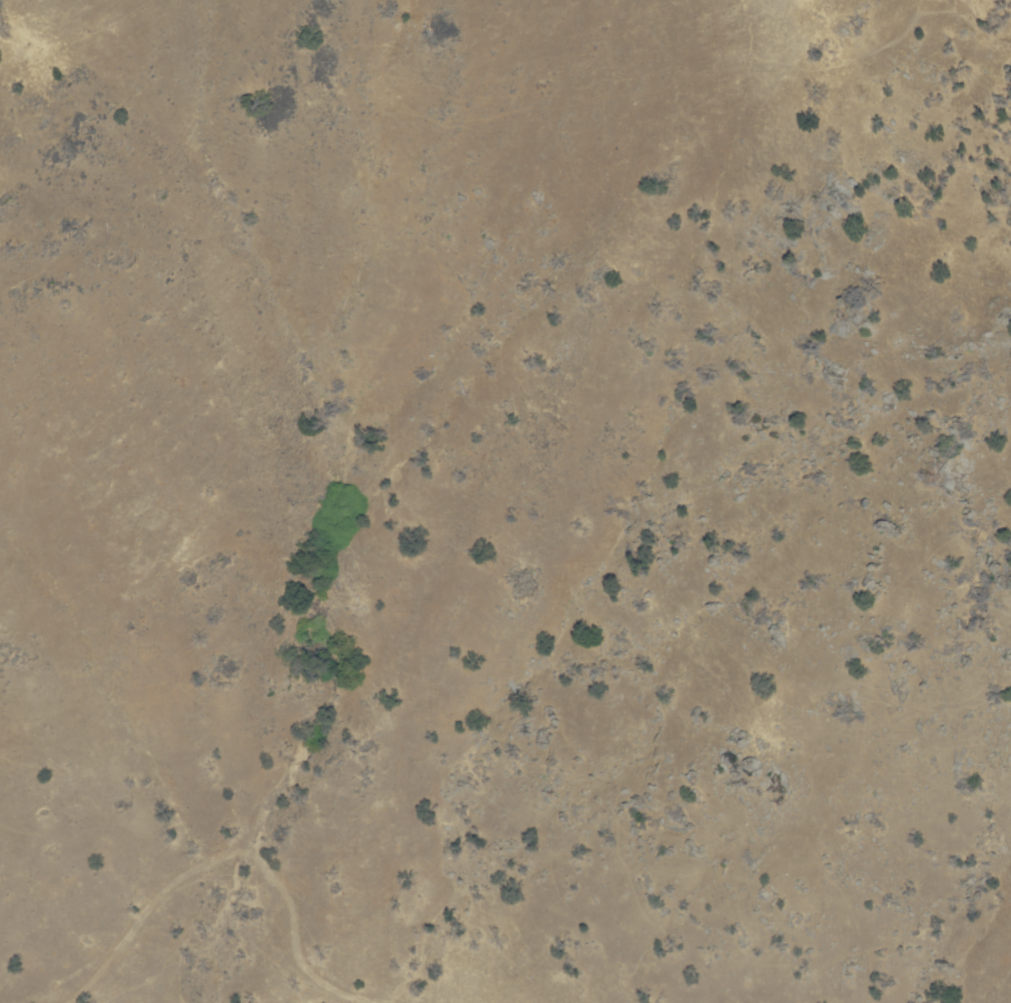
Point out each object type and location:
road: (239, 854)

